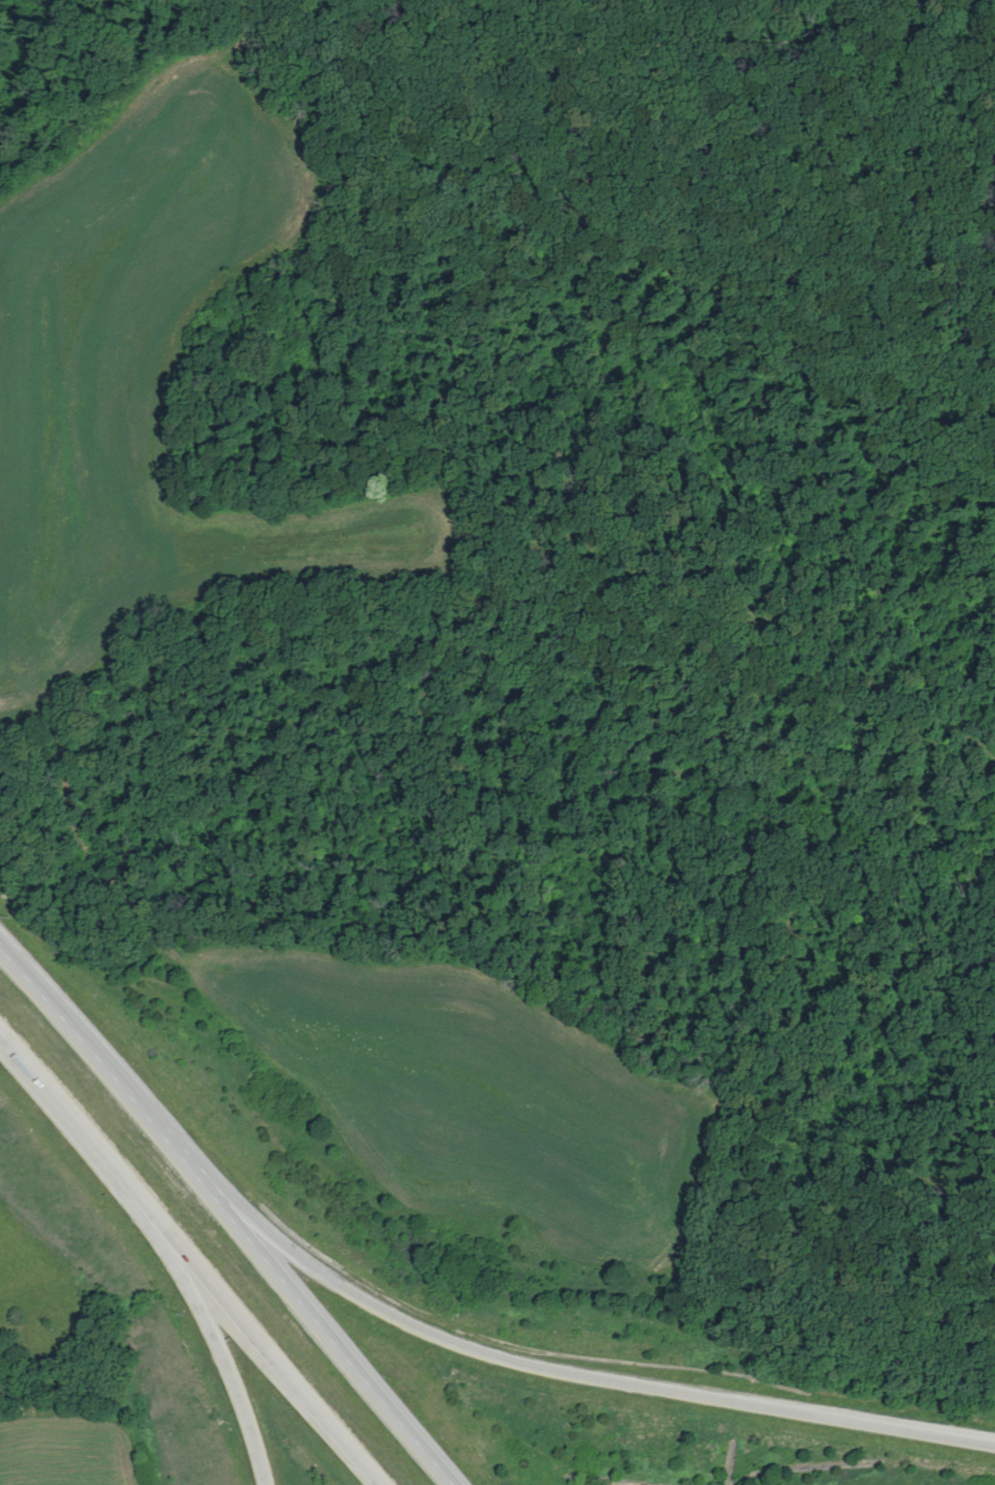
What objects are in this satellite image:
road: (229, 1215)
road: (186, 1277)
road: (606, 1374)
road: (240, 1395)

